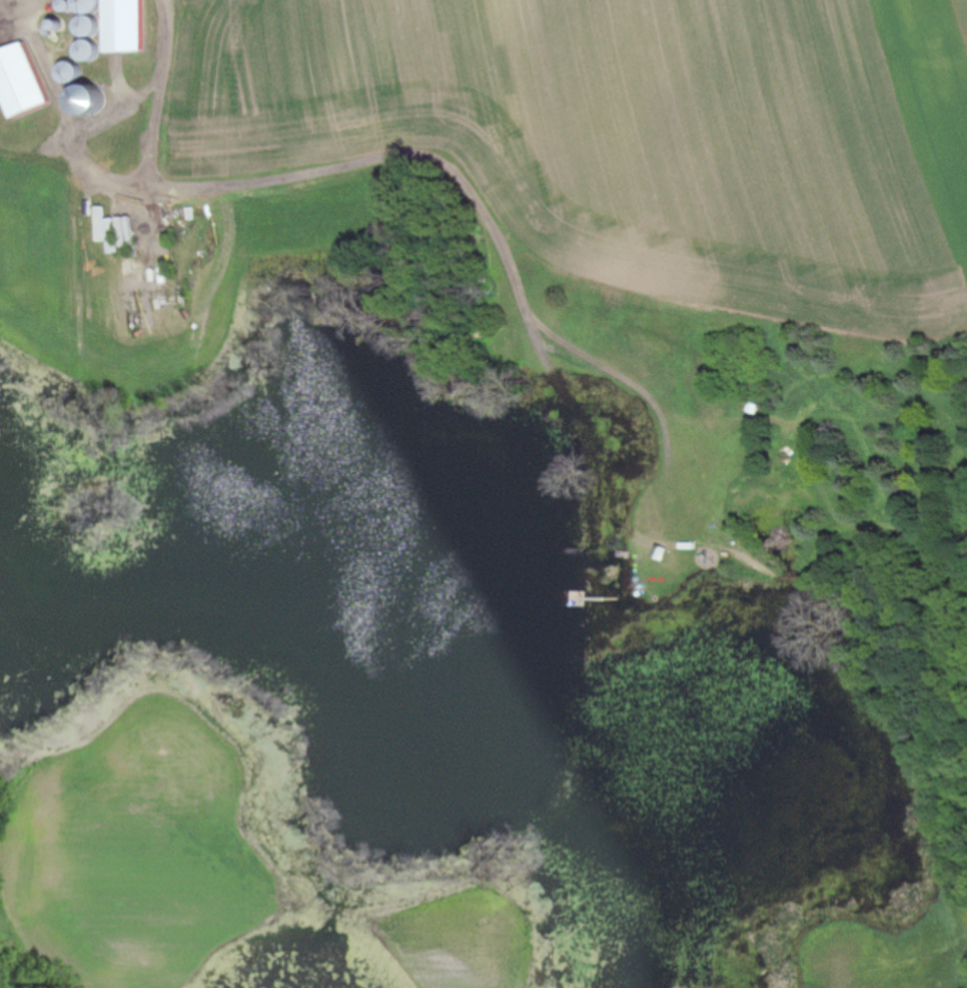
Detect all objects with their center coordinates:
road: (18, 2)
building: (89, 6)
building: (125, 26)
building: (72, 72)
building: (22, 81)
road: (159, 95)
building: (90, 102)
road: (75, 140)

